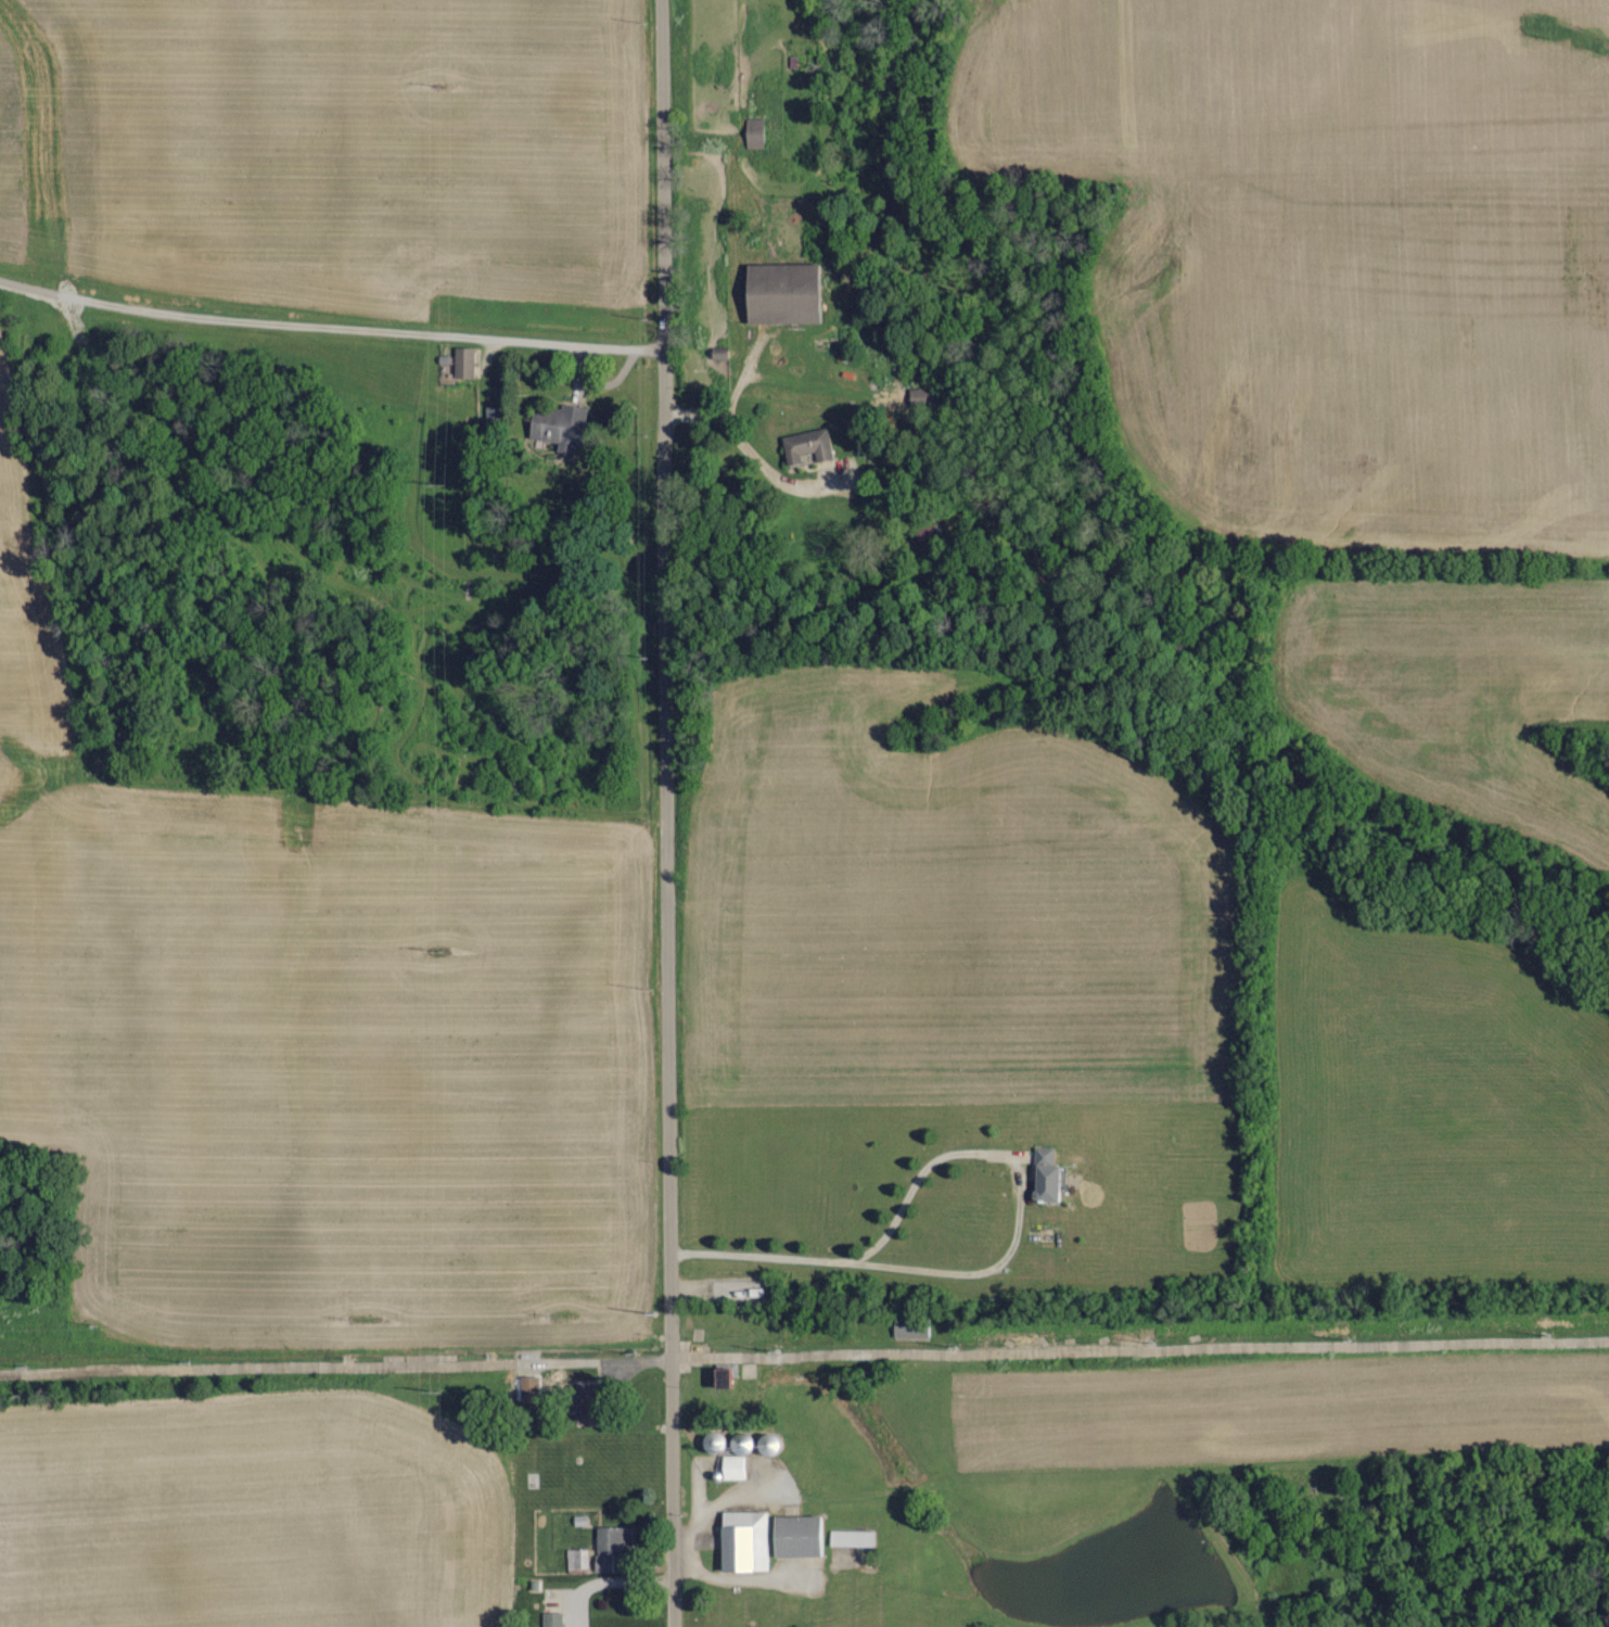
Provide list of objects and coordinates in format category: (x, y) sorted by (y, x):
building: (759, 131)
building: (790, 292)
road: (331, 326)
building: (469, 361)
building: (565, 424)
building: (812, 446)
road: (669, 512)
power tower: (440, 951)
road: (953, 1155)
building: (1052, 1174)
road: (672, 1325)
building: (914, 1327)
building: (731, 1375)
power tower: (438, 1380)
building: (533, 1388)
building: (596, 1406)
building: (739, 1467)
building: (783, 1538)
building: (615, 1545)
building: (576, 1560)
building: (556, 1619)

